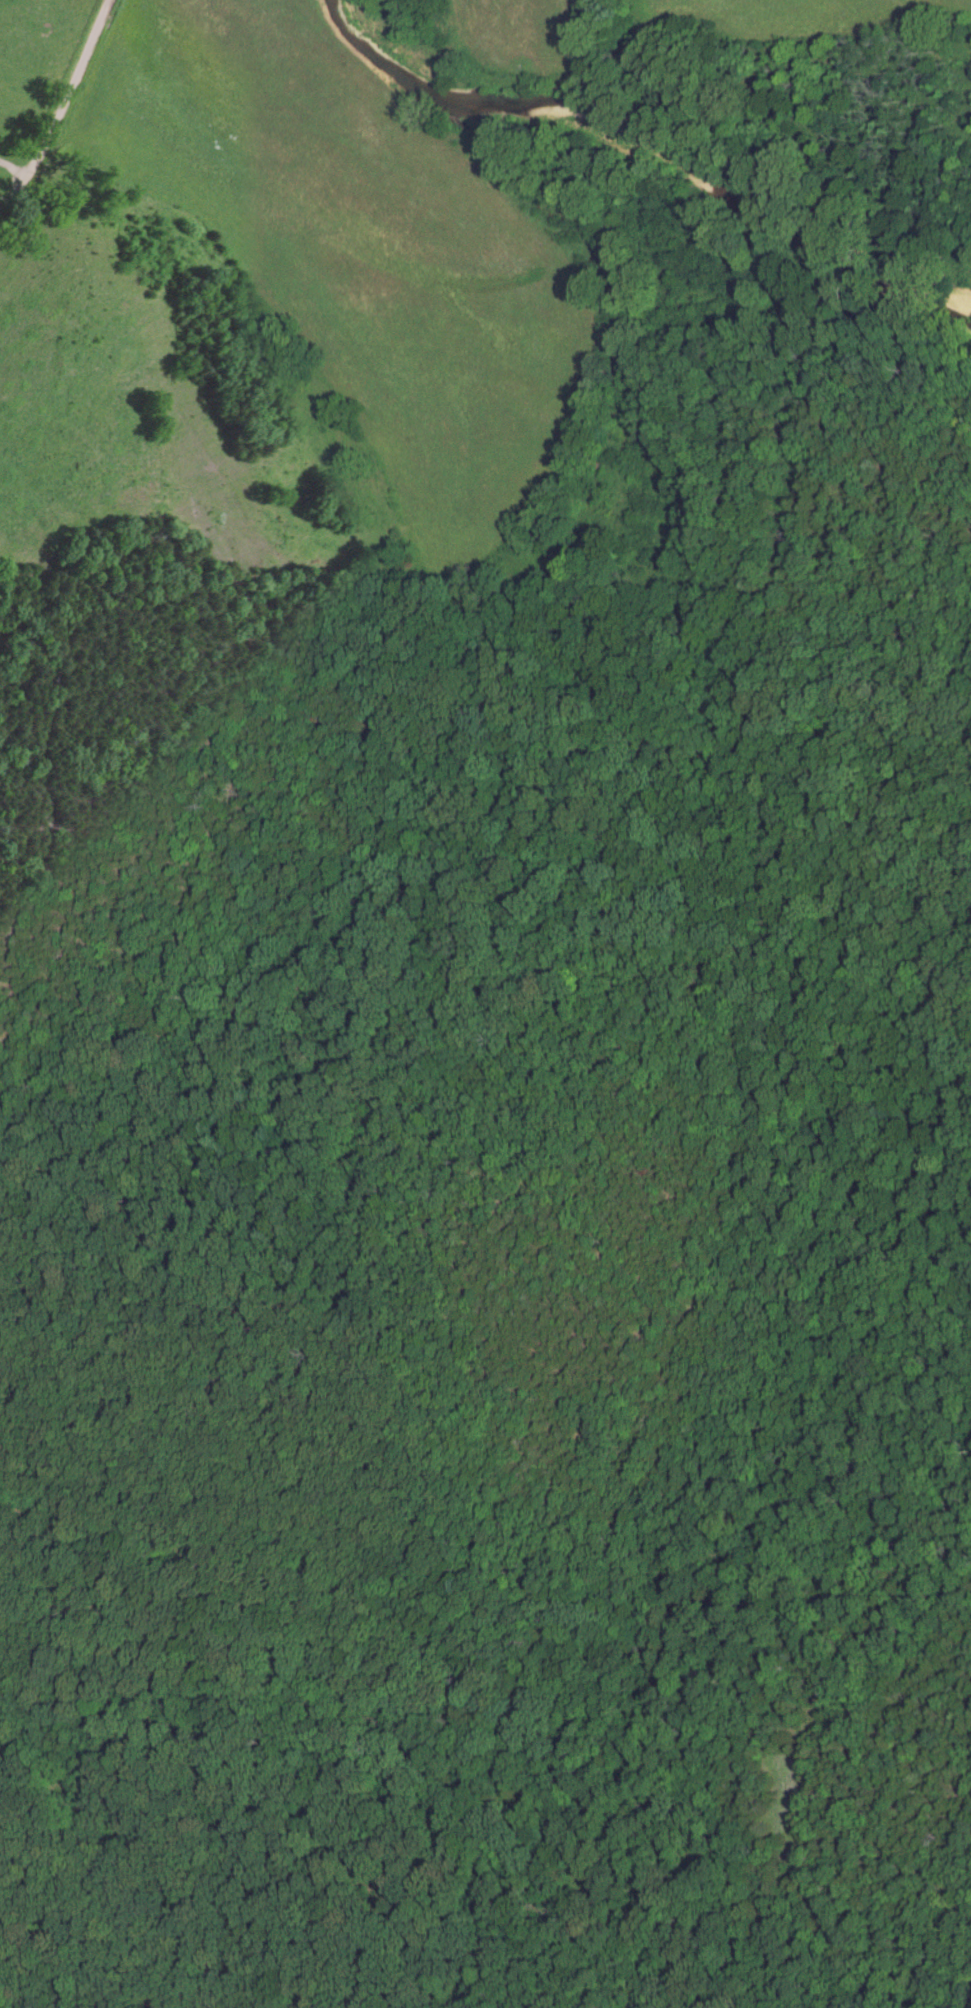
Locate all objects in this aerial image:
road: (61, 115)

